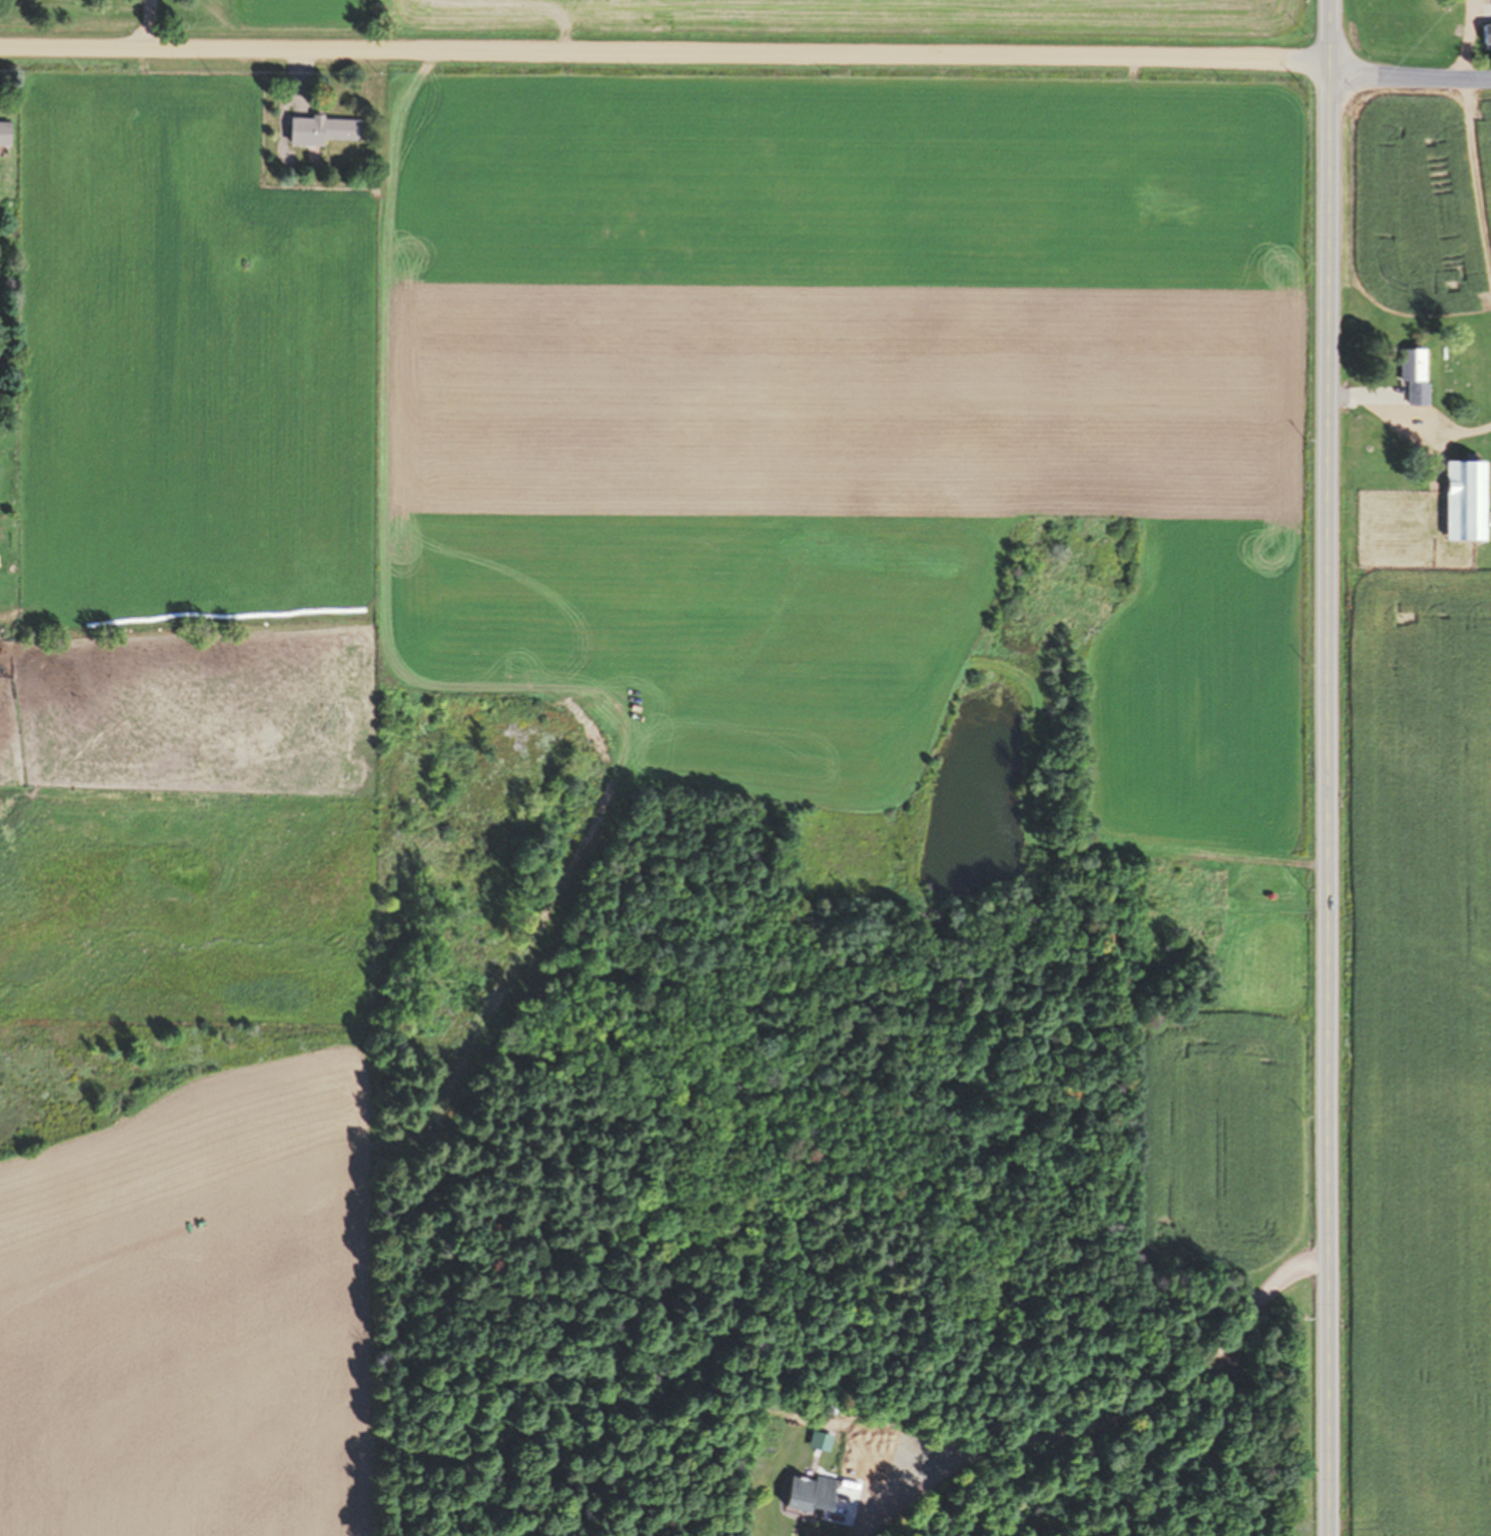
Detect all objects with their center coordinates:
building: (1485, 35)
road: (664, 52)
road: (1409, 75)
building: (320, 129)
building: (4, 133)
road: (1477, 164)
building: (1412, 374)
building: (1462, 500)
road: (1325, 767)
building: (808, 1493)

